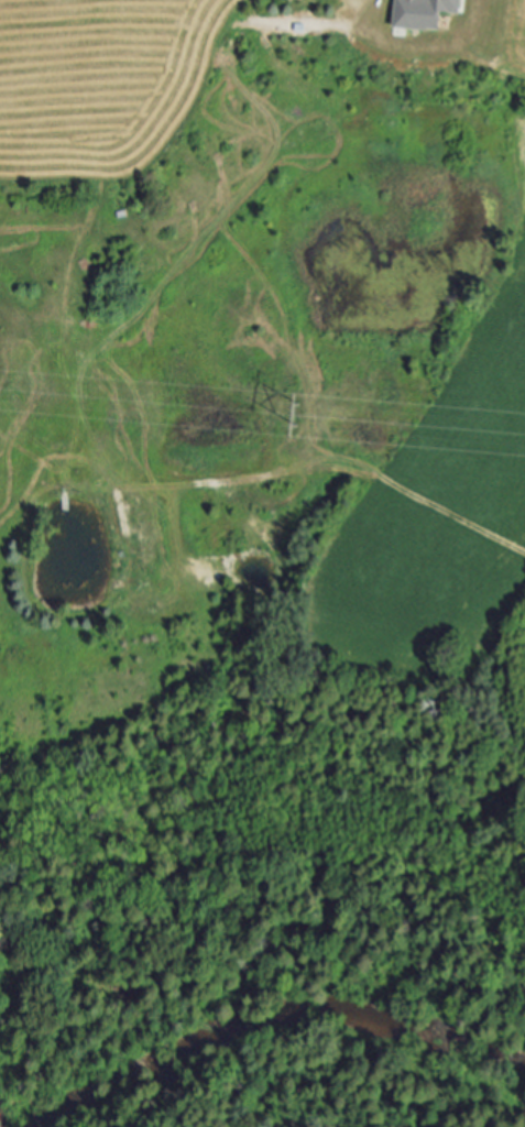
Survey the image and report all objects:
building: (427, 13)
power tower: (300, 417)
river: (276, 1018)

